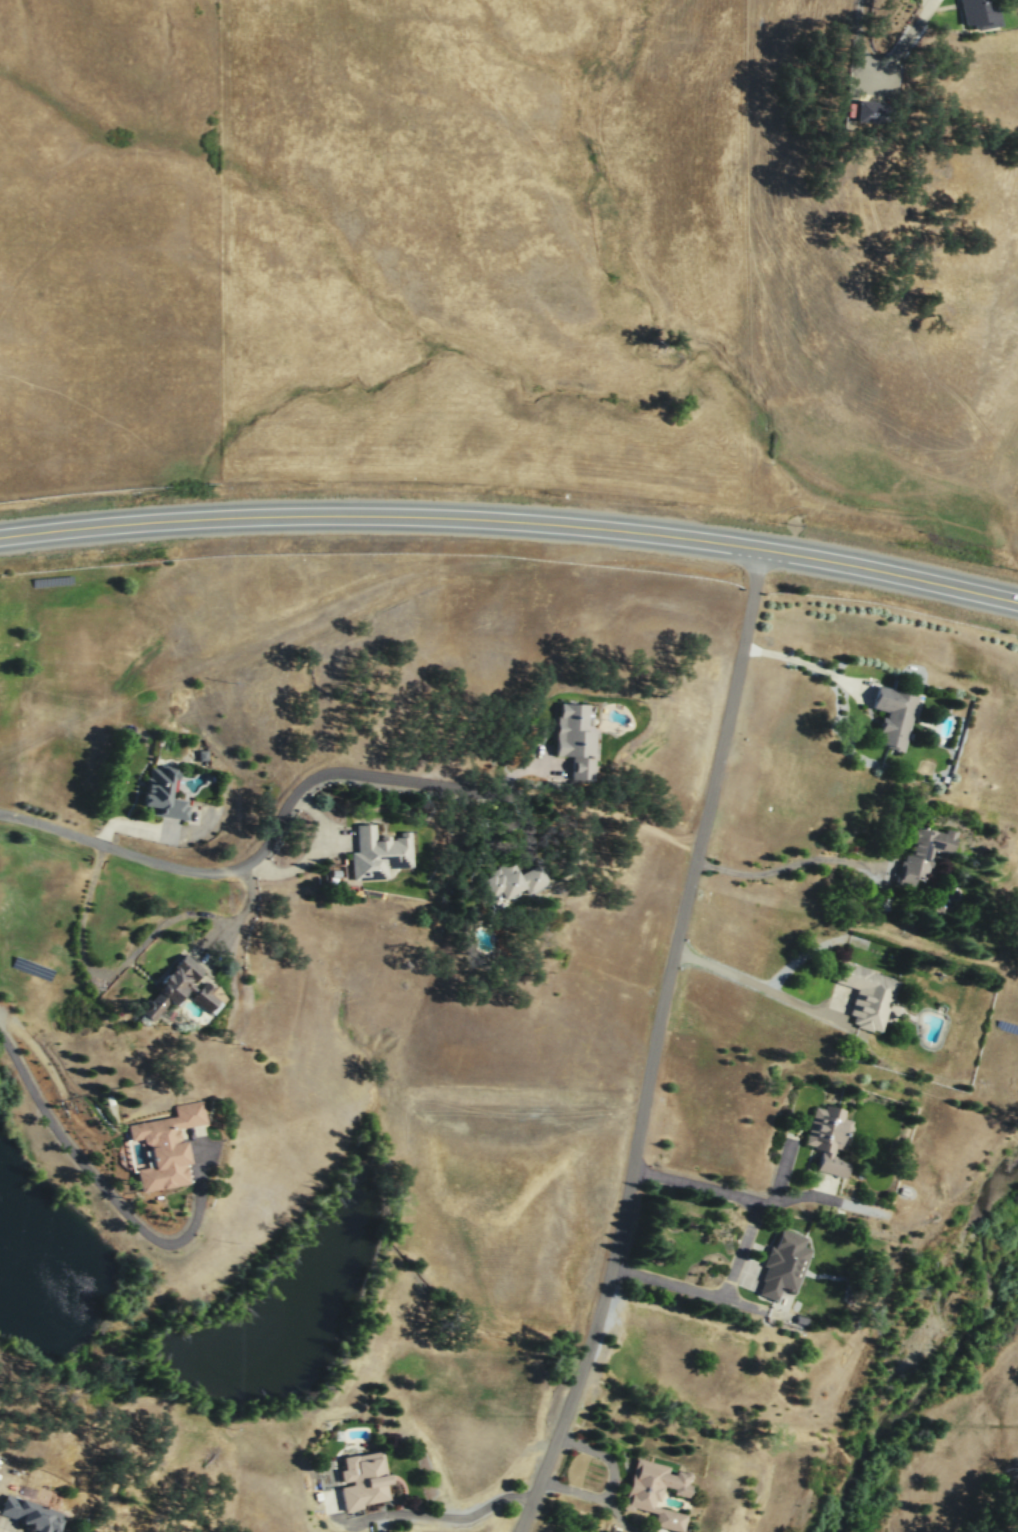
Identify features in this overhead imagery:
building: (982, 12)
road: (881, 75)
building: (877, 111)
road: (511, 523)
road: (809, 665)
building: (892, 716)
building: (575, 739)
road: (527, 767)
building: (160, 792)
road: (263, 846)
building: (923, 849)
road: (316, 852)
building: (378, 852)
road: (797, 861)
building: (514, 881)
road: (238, 913)
road: (79, 920)
road: (799, 956)
building: (175, 988)
road: (763, 988)
building: (866, 994)
road: (662, 1045)
building: (827, 1137)
building: (161, 1146)
road: (780, 1169)
road: (820, 1195)
road: (109, 1197)
road: (743, 1243)
building: (782, 1263)
building: (360, 1478)
road: (609, 1483)
building: (655, 1491)
building: (31, 1513)
road: (446, 1516)
road: (619, 1518)
road: (2, 1525)

